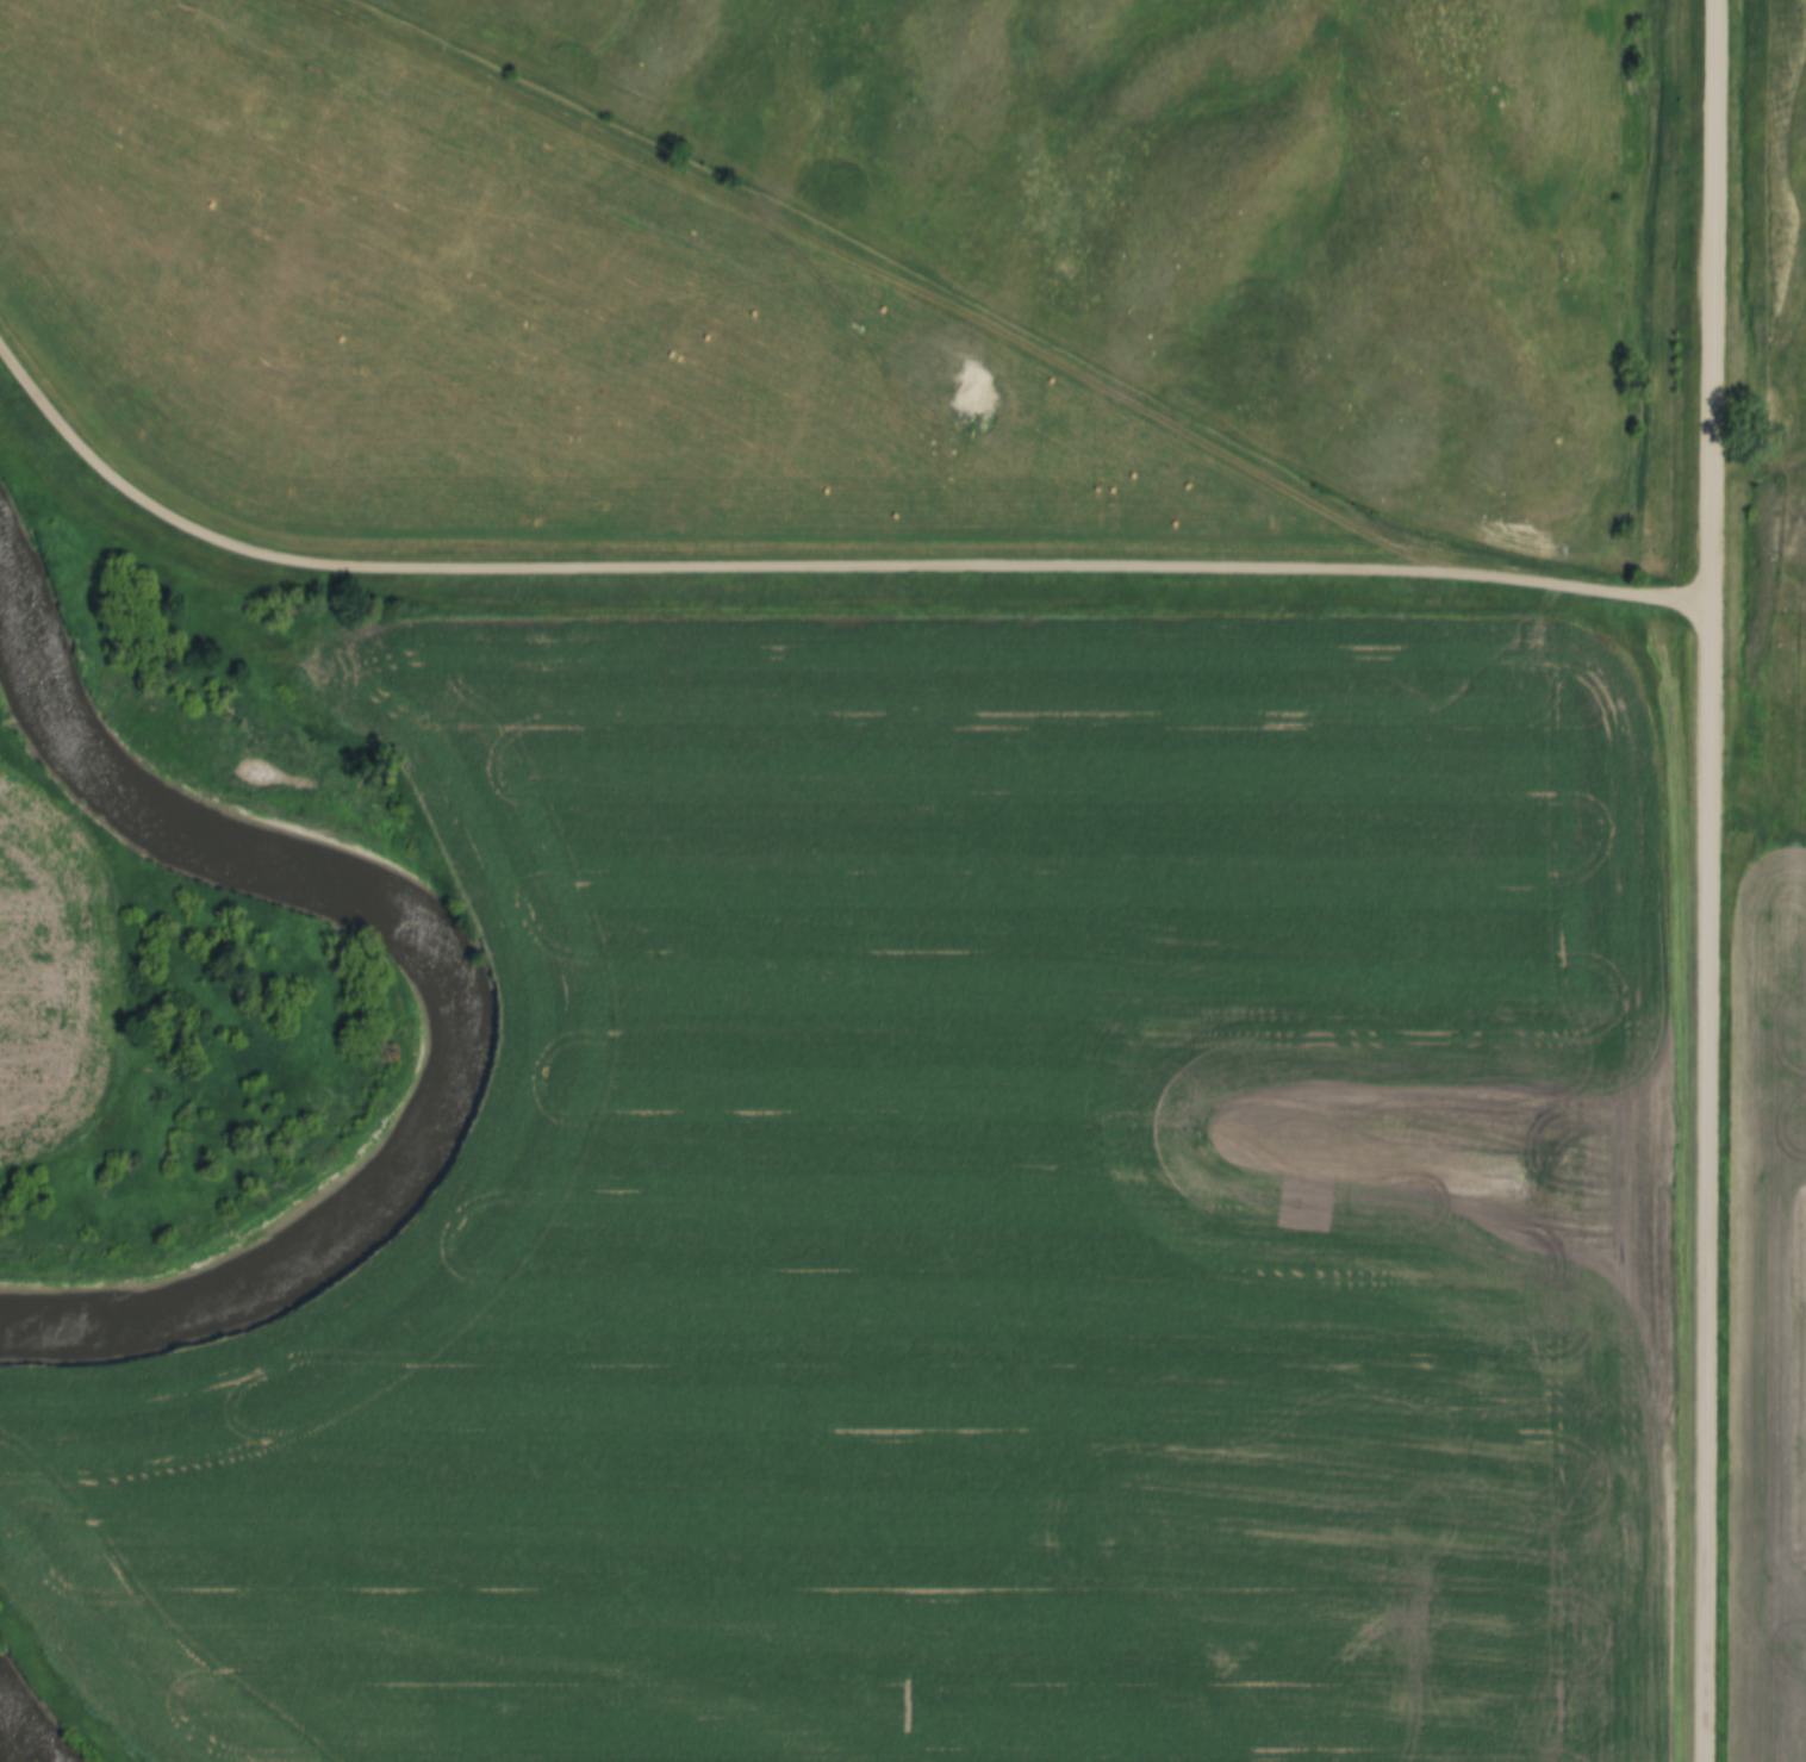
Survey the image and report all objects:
road: (814, 566)
river: (52, 717)
road: (1707, 880)
river: (432, 1114)
river: (14, 1743)

